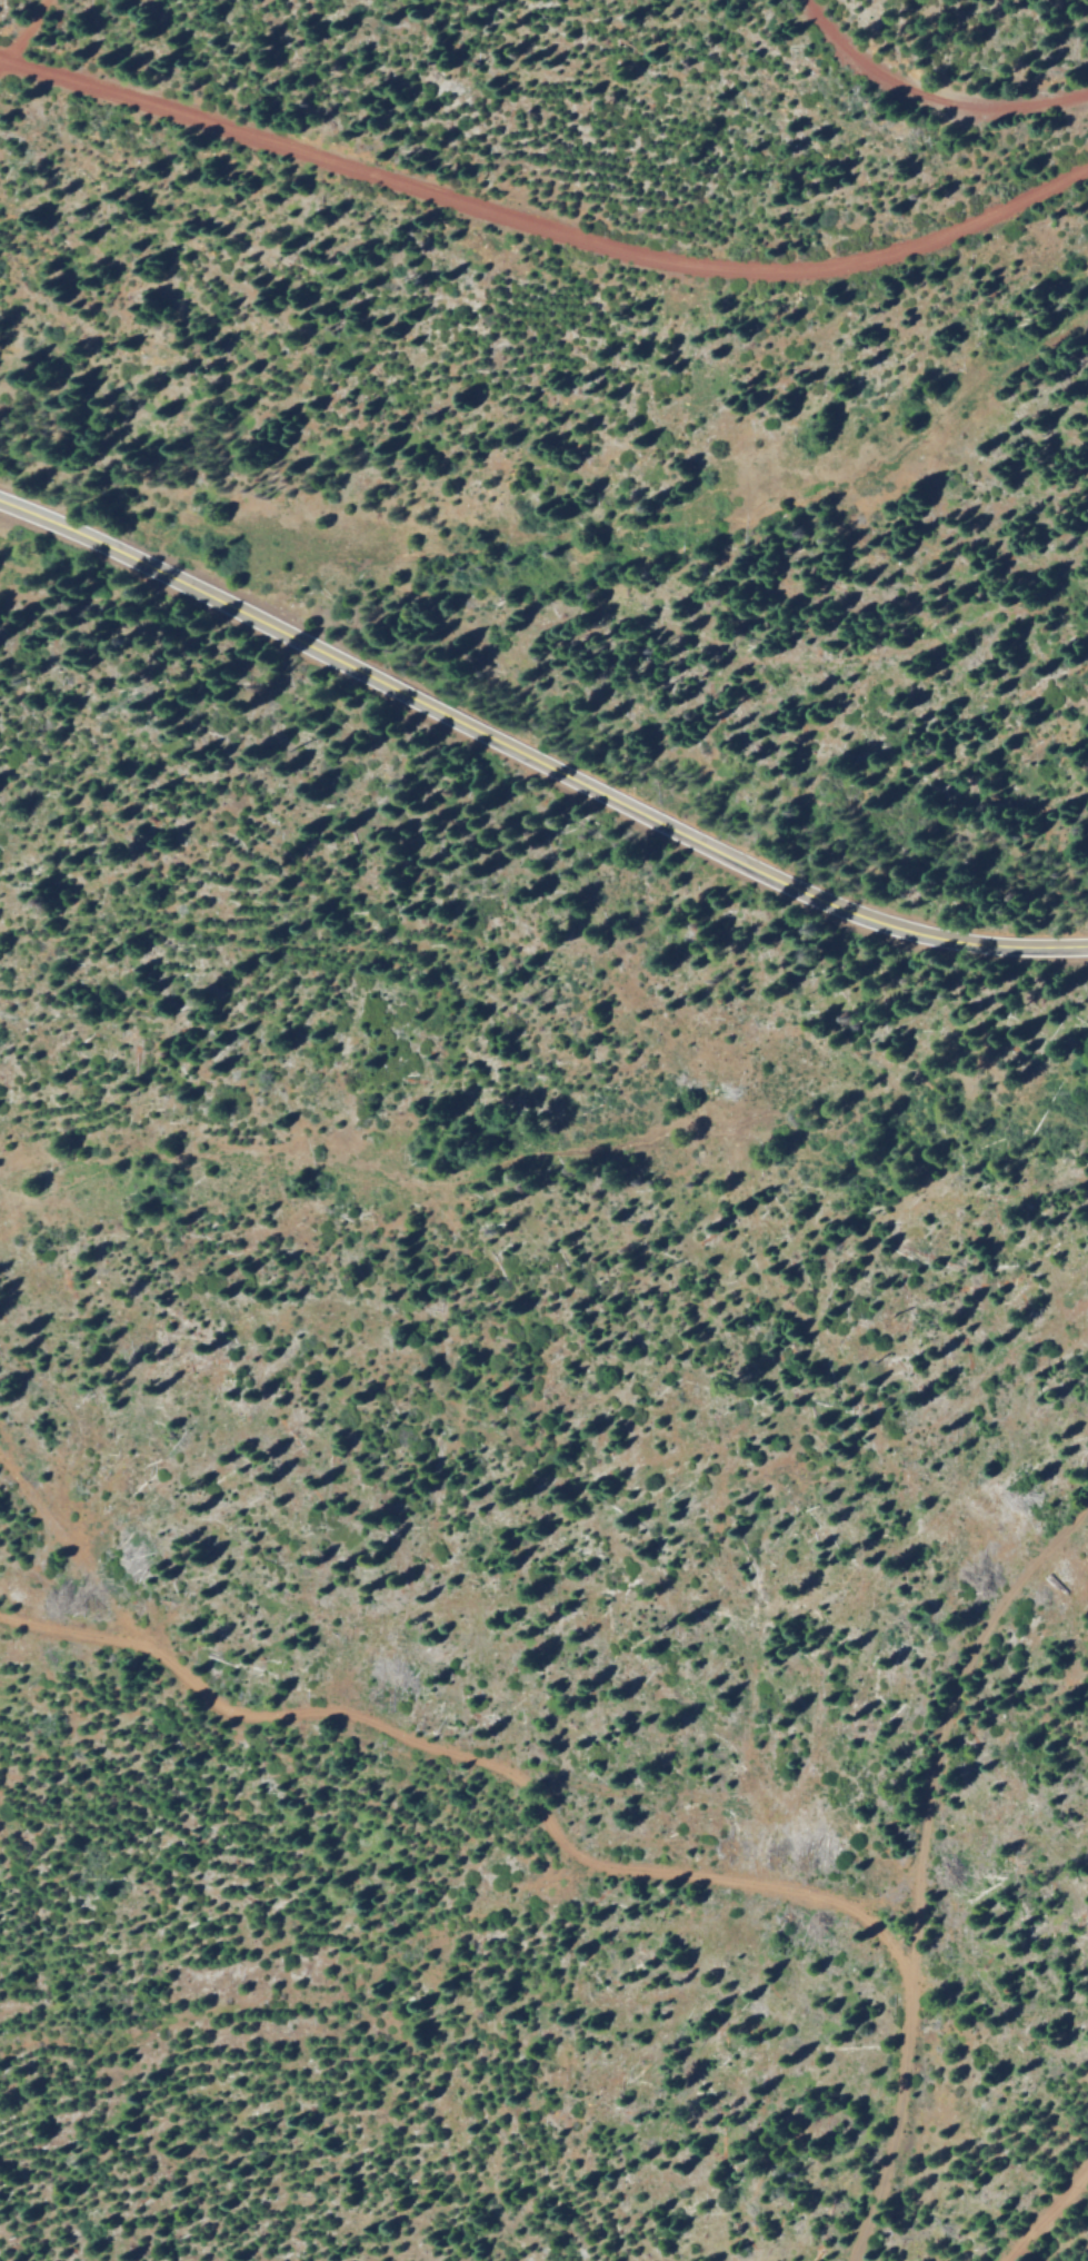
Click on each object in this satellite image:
road: (21, 29)
road: (929, 97)
road: (543, 227)
road: (533, 756)
road: (932, 1868)
road: (1047, 2213)

